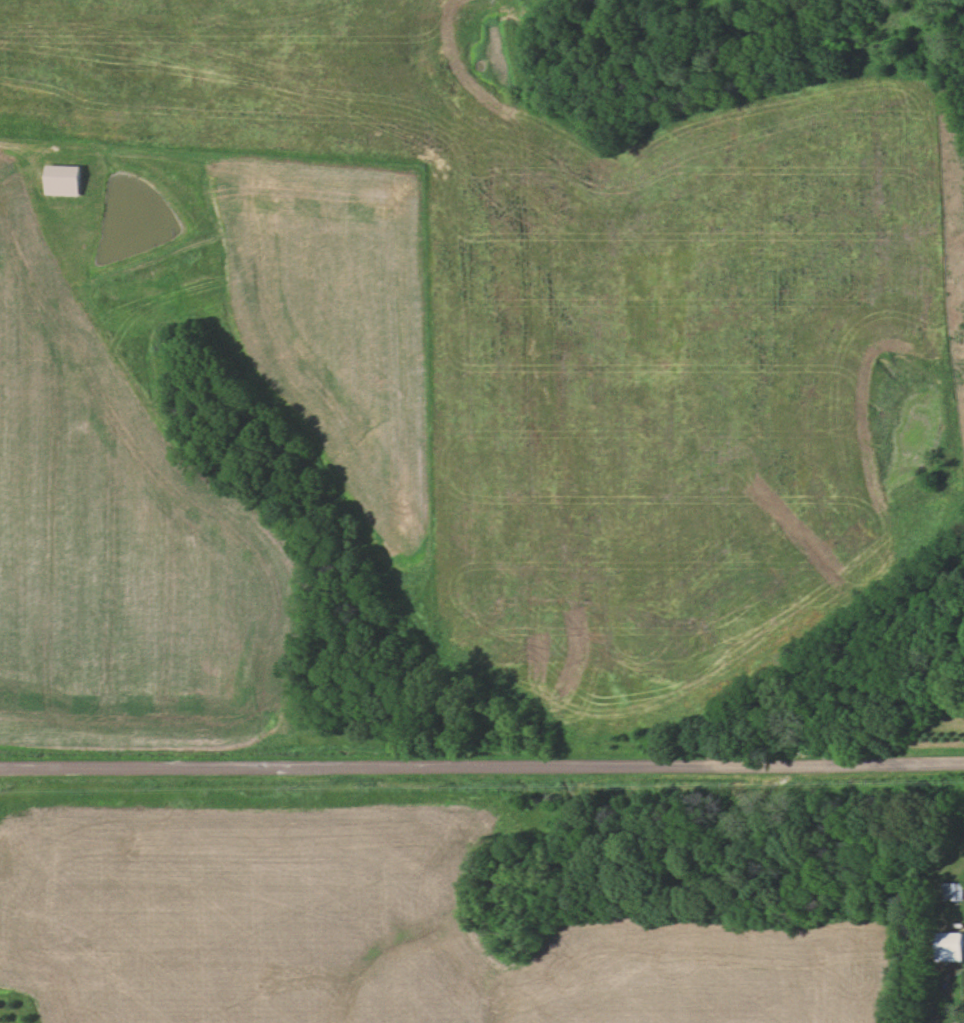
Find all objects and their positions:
building: (65, 180)
road: (820, 646)
road: (482, 761)
building: (953, 891)
building: (950, 946)

